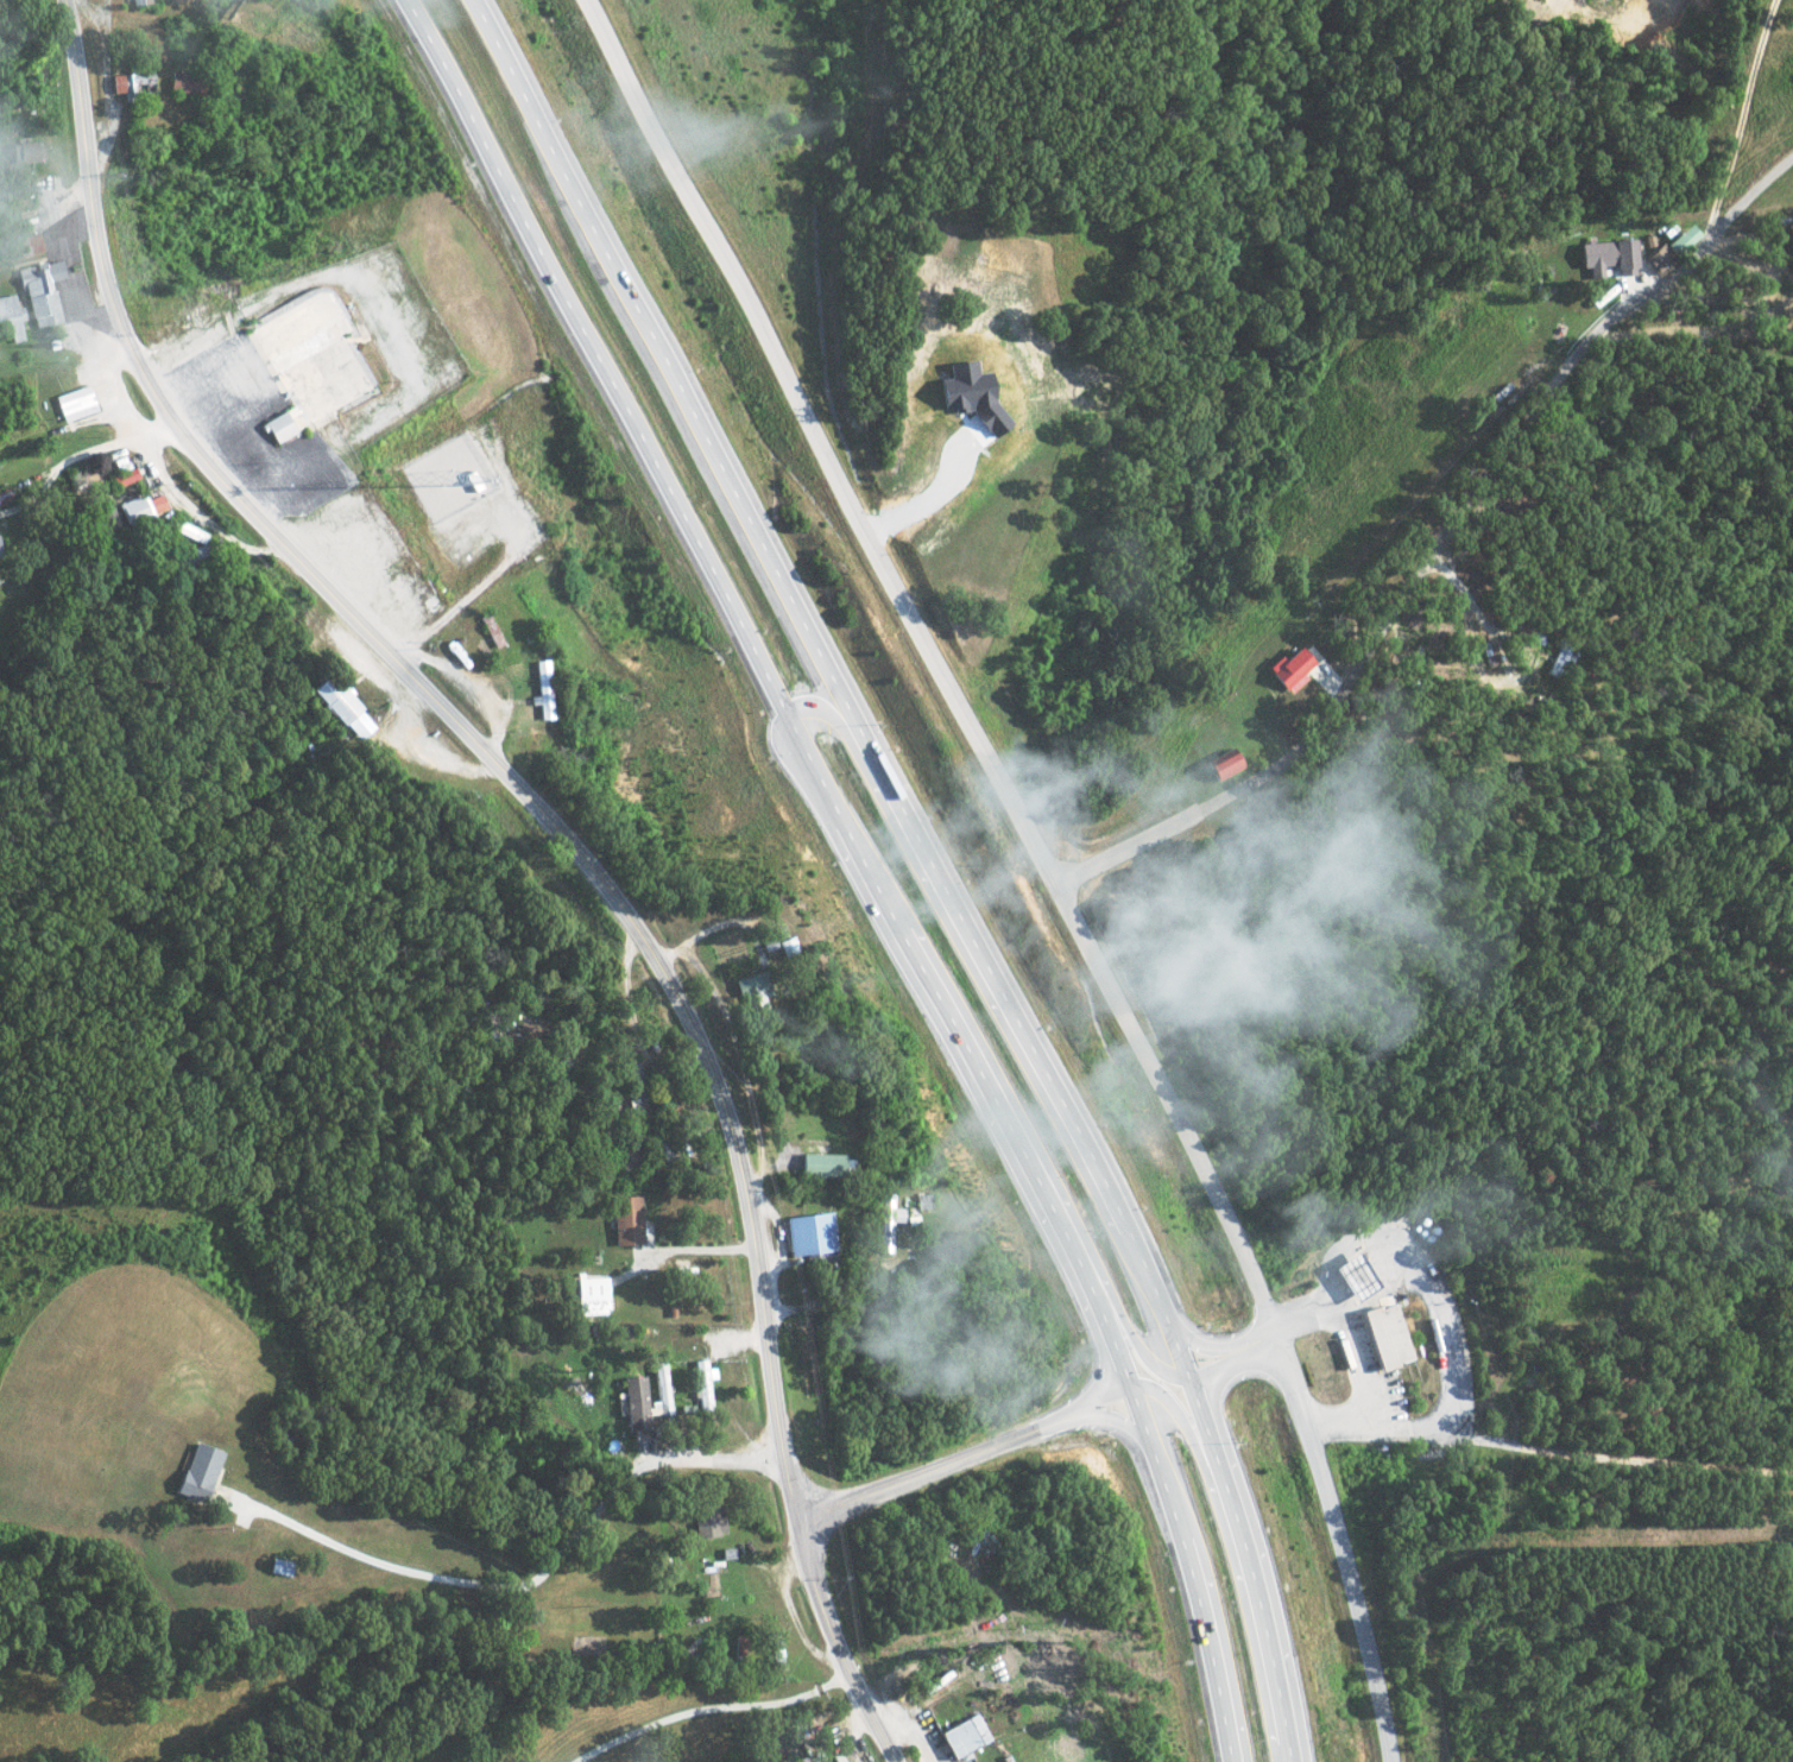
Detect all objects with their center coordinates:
building: (130, 84)
building: (184, 84)
building: (24, 152)
building: (1678, 240)
building: (25, 245)
building: (1604, 258)
building: (1654, 260)
building: (40, 292)
building: (11, 317)
road: (596, 354)
road: (661, 354)
building: (74, 403)
building: (277, 427)
road: (820, 436)
road: (80, 454)
building: (124, 478)
building: (140, 509)
building: (184, 530)
road: (1442, 548)
building: (1289, 668)
building: (543, 688)
road: (820, 700)
building: (340, 706)
building: (1221, 765)
road: (845, 814)
road: (557, 832)
road: (991, 959)
building: (753, 992)
road: (1000, 1099)
building: (819, 1164)
building: (624, 1219)
building: (885, 1221)
building: (911, 1224)
building: (807, 1233)
building: (1351, 1276)
road: (1153, 1289)
building: (589, 1291)
road: (1262, 1302)
road: (1112, 1308)
road: (1172, 1315)
road: (1111, 1331)
road: (1199, 1334)
building: (1385, 1335)
road: (1249, 1341)
road: (1219, 1345)
road: (1221, 1352)
road: (1155, 1353)
road: (1200, 1360)
building: (700, 1382)
road: (1160, 1383)
road: (1113, 1384)
road: (1086, 1396)
building: (642, 1401)
road: (1087, 1403)
road: (1112, 1408)
road: (1136, 1415)
road: (1202, 1415)
road: (1200, 1436)
road: (1551, 1450)
road: (706, 1458)
road: (935, 1459)
road: (1158, 1459)
building: (197, 1472)
building: (705, 1520)
road: (452, 1580)
road: (1259, 1596)
road: (1213, 1650)
road: (707, 1707)
building: (961, 1736)
road: (1289, 1745)
building: (838, 1760)
building: (795, 1761)

